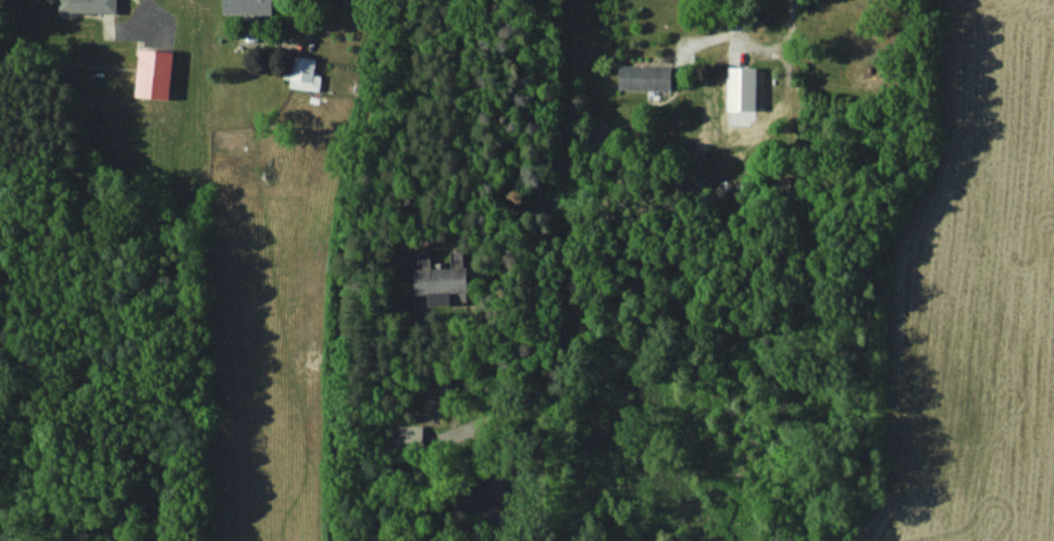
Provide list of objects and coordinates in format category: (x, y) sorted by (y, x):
building: (88, 5)
building: (247, 7)
road: (762, 39)
building: (154, 73)
building: (305, 74)
building: (644, 77)
building: (742, 95)
road: (540, 267)
building: (443, 279)
building: (407, 436)

